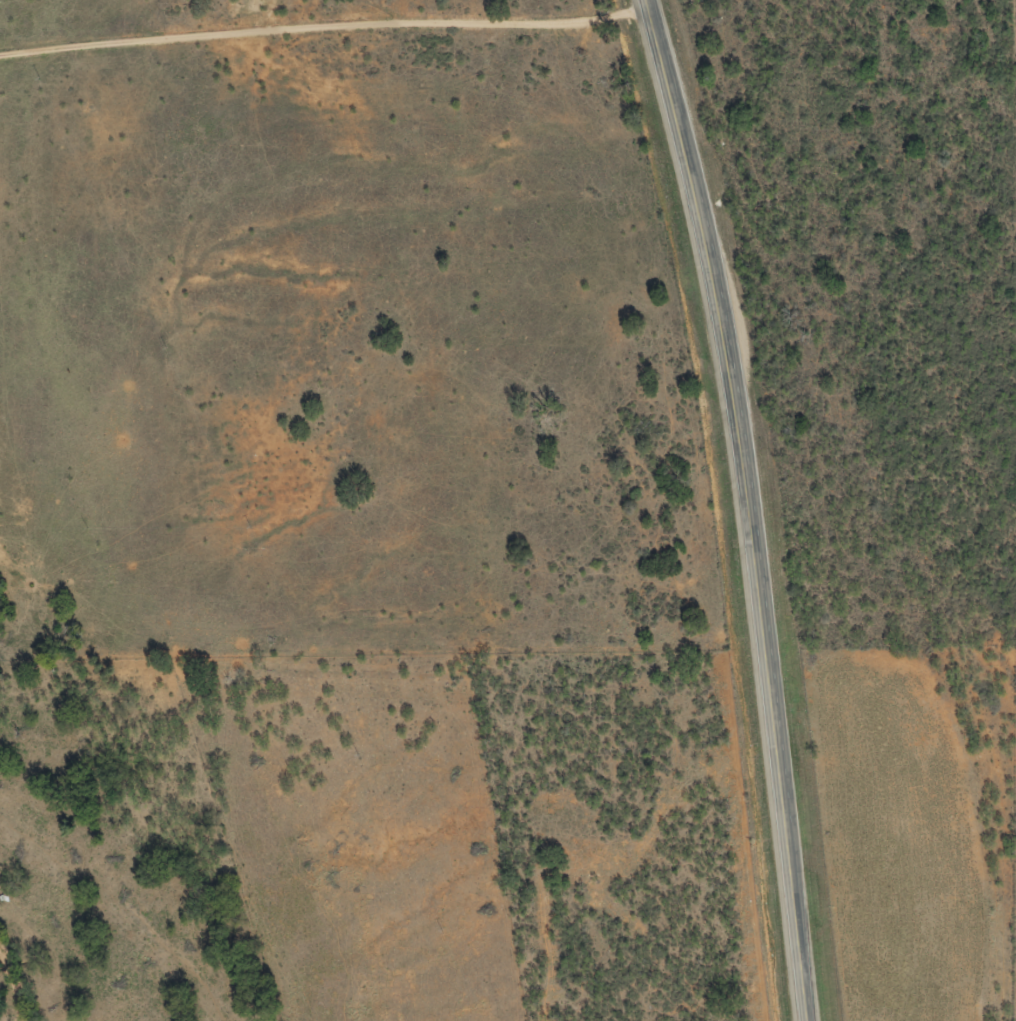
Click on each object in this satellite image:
road: (753, 506)

